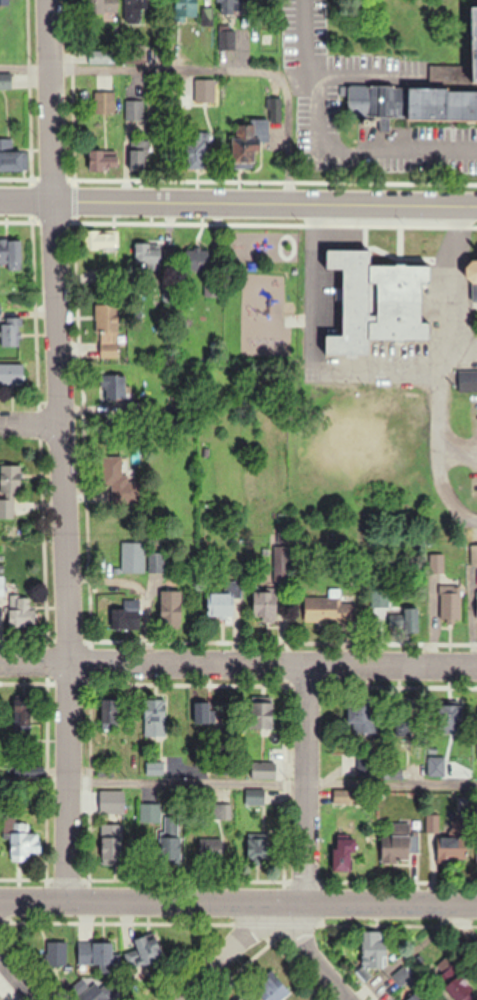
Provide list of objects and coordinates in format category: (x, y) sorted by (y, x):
building: (4, 1)
building: (232, 5)
building: (102, 6)
building: (186, 9)
building: (136, 11)
building: (225, 39)
building: (472, 41)
building: (99, 56)
road: (151, 70)
road: (367, 73)
parking lot: (323, 85)
building: (203, 89)
building: (103, 101)
building: (410, 102)
building: (133, 109)
road: (286, 139)
building: (250, 140)
road: (318, 147)
building: (195, 148)
building: (136, 154)
building: (11, 156)
building: (101, 160)
road: (238, 205)
building: (100, 239)
building: (10, 253)
building: (148, 257)
building: (193, 263)
building: (472, 270)
building: (210, 286)
building: (376, 299)
building: (9, 328)
building: (106, 330)
road: (372, 362)
building: (11, 377)
building: (467, 380)
building: (114, 385)
road: (432, 416)
road: (29, 425)
road: (59, 454)
building: (9, 478)
building: (5, 508)
building: (473, 553)
building: (131, 557)
building: (154, 562)
building: (435, 562)
building: (279, 572)
building: (224, 600)
building: (449, 601)
building: (265, 604)
building: (476, 604)
building: (170, 608)
building: (327, 608)
building: (20, 611)
building: (407, 611)
building: (126, 615)
road: (238, 665)
building: (202, 712)
building: (110, 713)
building: (262, 714)
building: (363, 715)
building: (22, 717)
building: (153, 717)
building: (435, 765)
building: (264, 774)
road: (238, 783)
road: (305, 789)
building: (347, 797)
building: (254, 799)
building: (218, 811)
building: (149, 813)
building: (448, 838)
building: (172, 842)
building: (24, 844)
building: (111, 849)
building: (255, 849)
building: (397, 849)
building: (344, 853)
building: (210, 855)
road: (238, 912)
building: (374, 952)
building: (94, 953)
building: (144, 953)
building: (55, 954)
road: (228, 956)
road: (315, 956)
road: (5, 979)
road: (16, 981)
building: (460, 989)
building: (93, 990)
building: (273, 990)
building: (243, 998)
building: (412, 999)
building: (425, 999)

